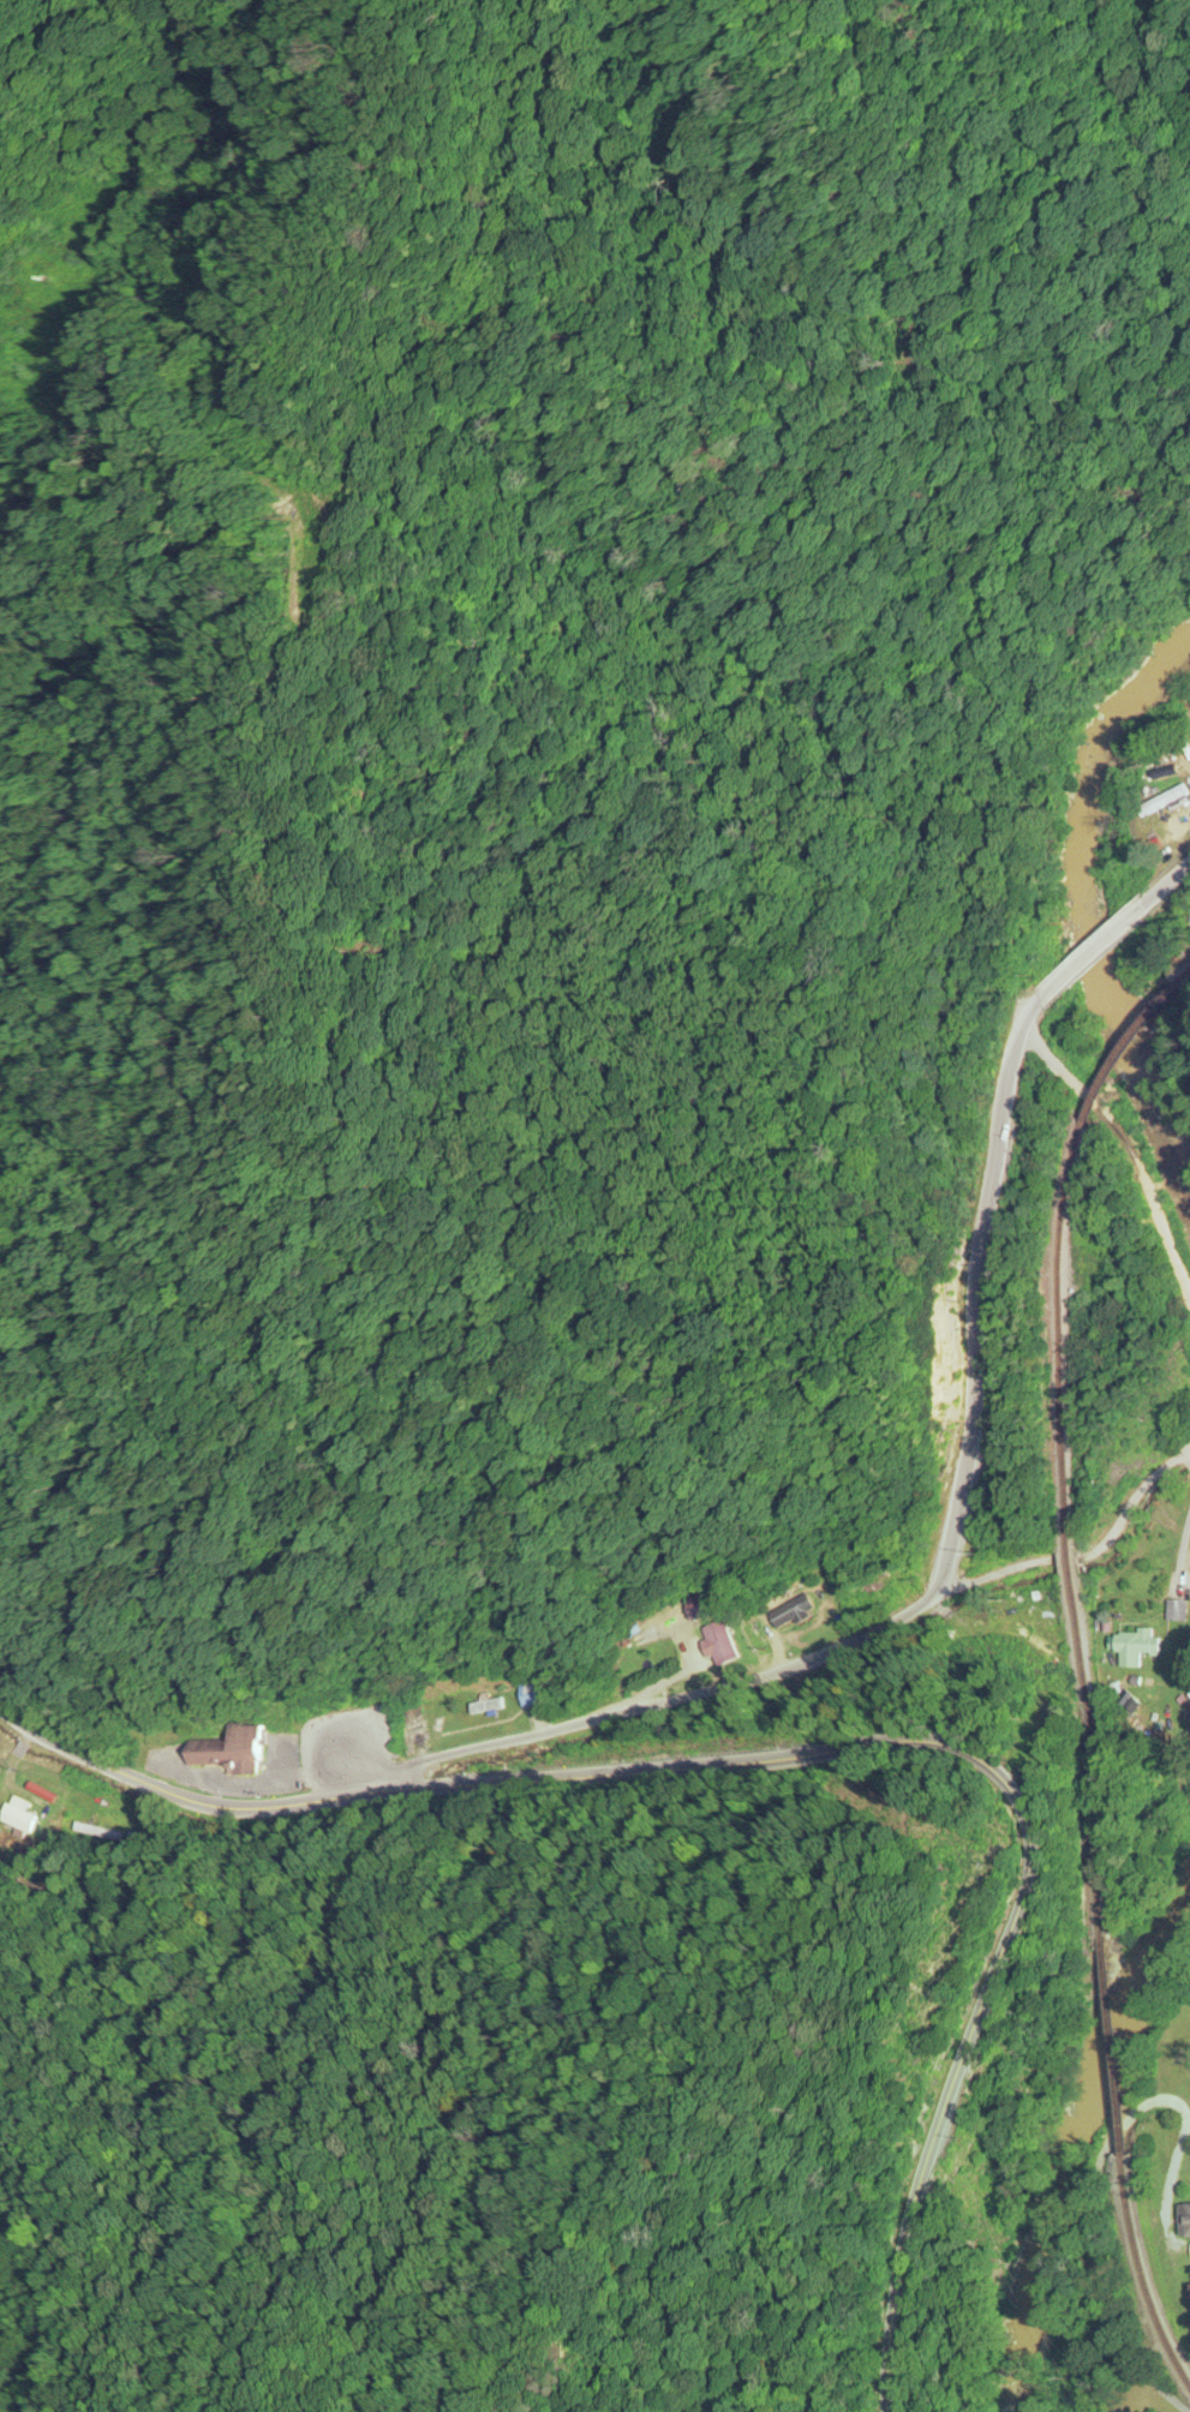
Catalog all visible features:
road: (1180, 867)
river: (1081, 921)
road: (1104, 934)
railway: (1180, 974)
railway: (1118, 1048)
railway: (1065, 1528)
road: (937, 1579)
building: (704, 1608)
building: (1173, 1611)
building: (793, 1616)
building: (1031, 1640)
building: (725, 1646)
building: (1134, 1647)
building: (531, 1689)
building: (437, 1708)
building: (227, 1750)
road: (825, 1753)
building: (20, 1823)
railway: (1108, 2048)
river: (1063, 2133)
building: (1184, 2221)
railway: (1140, 2275)

